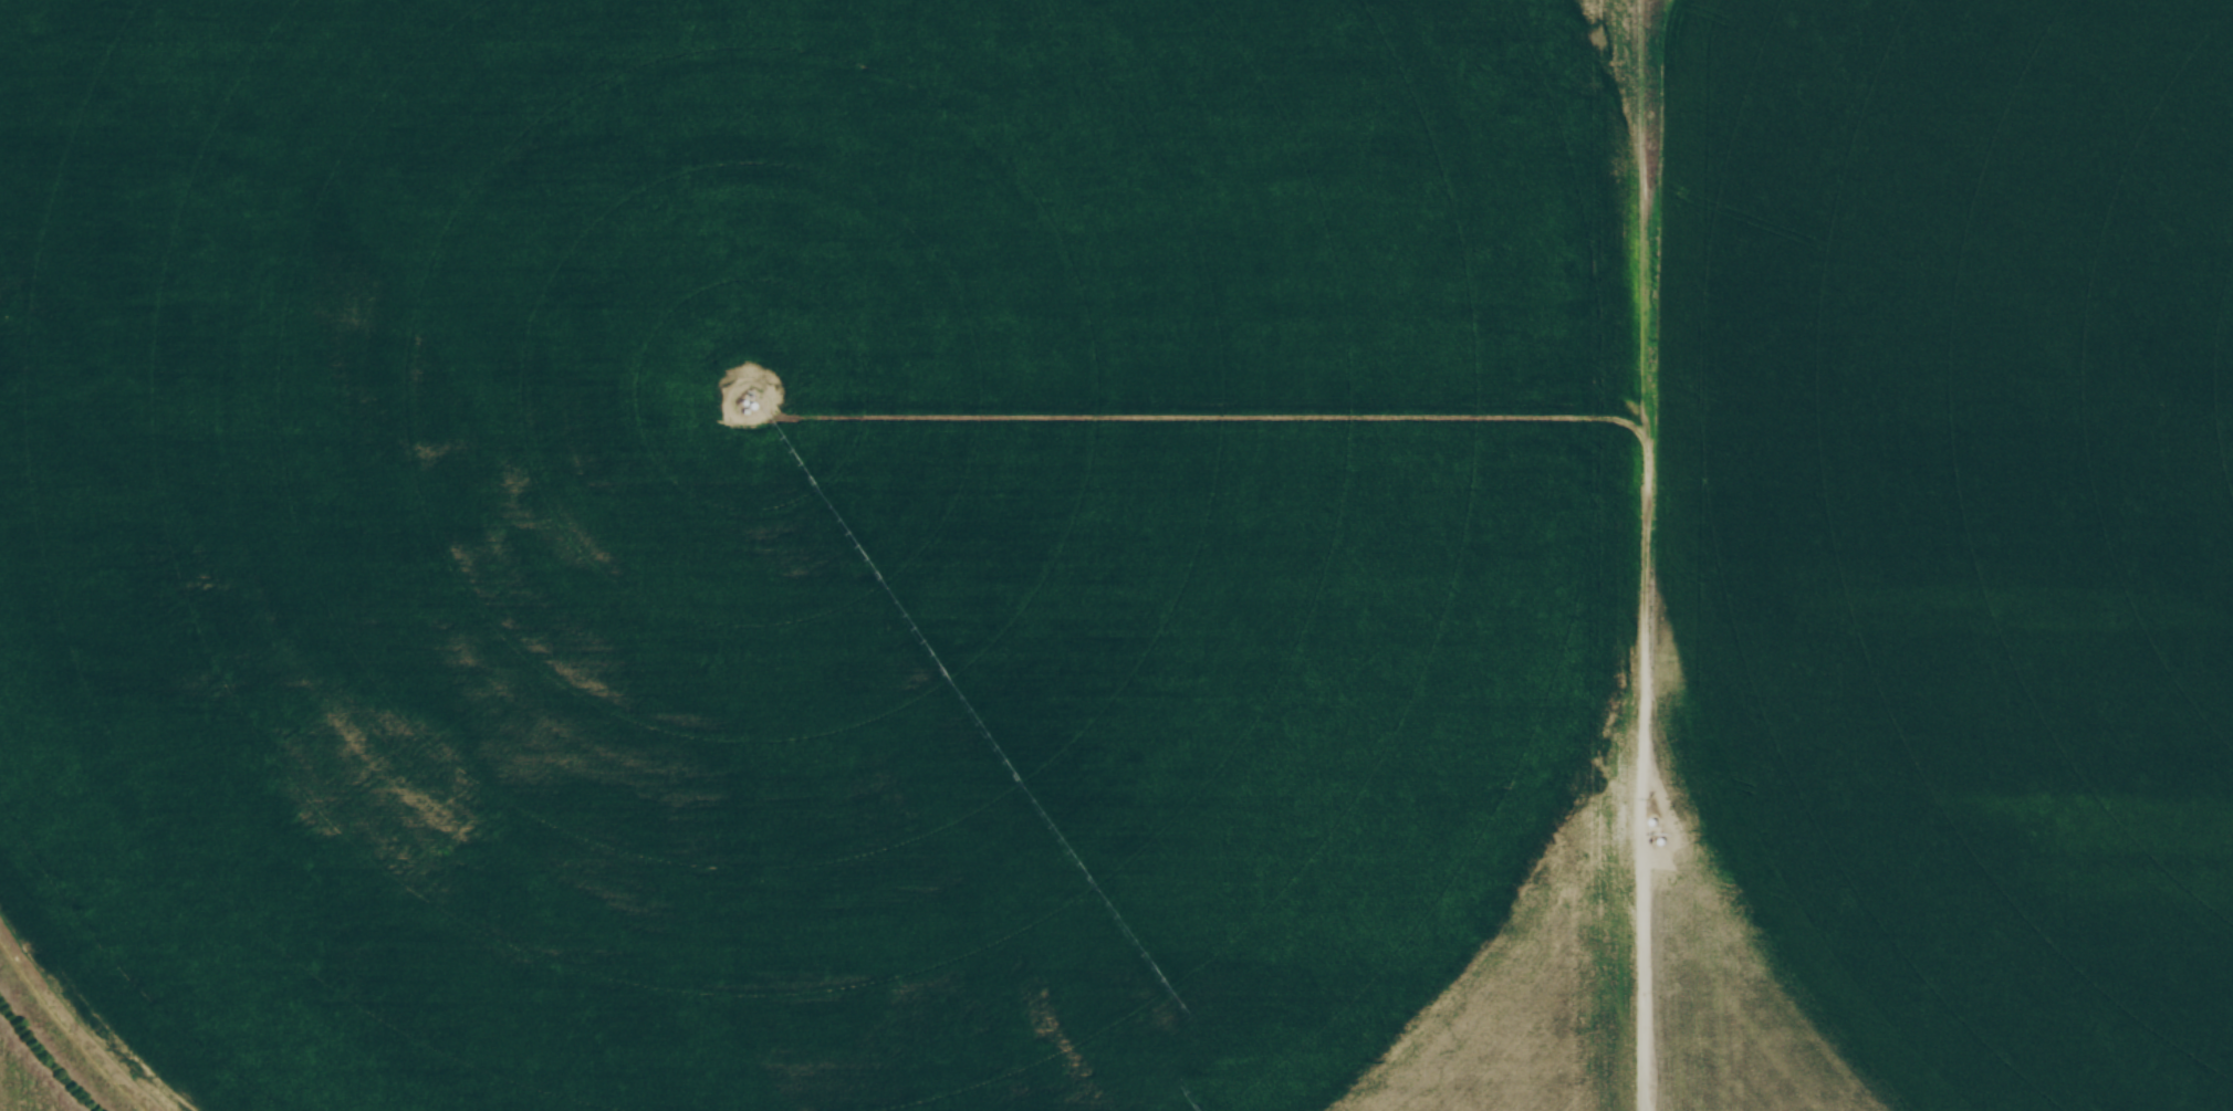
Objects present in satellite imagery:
building: (104, 354)

